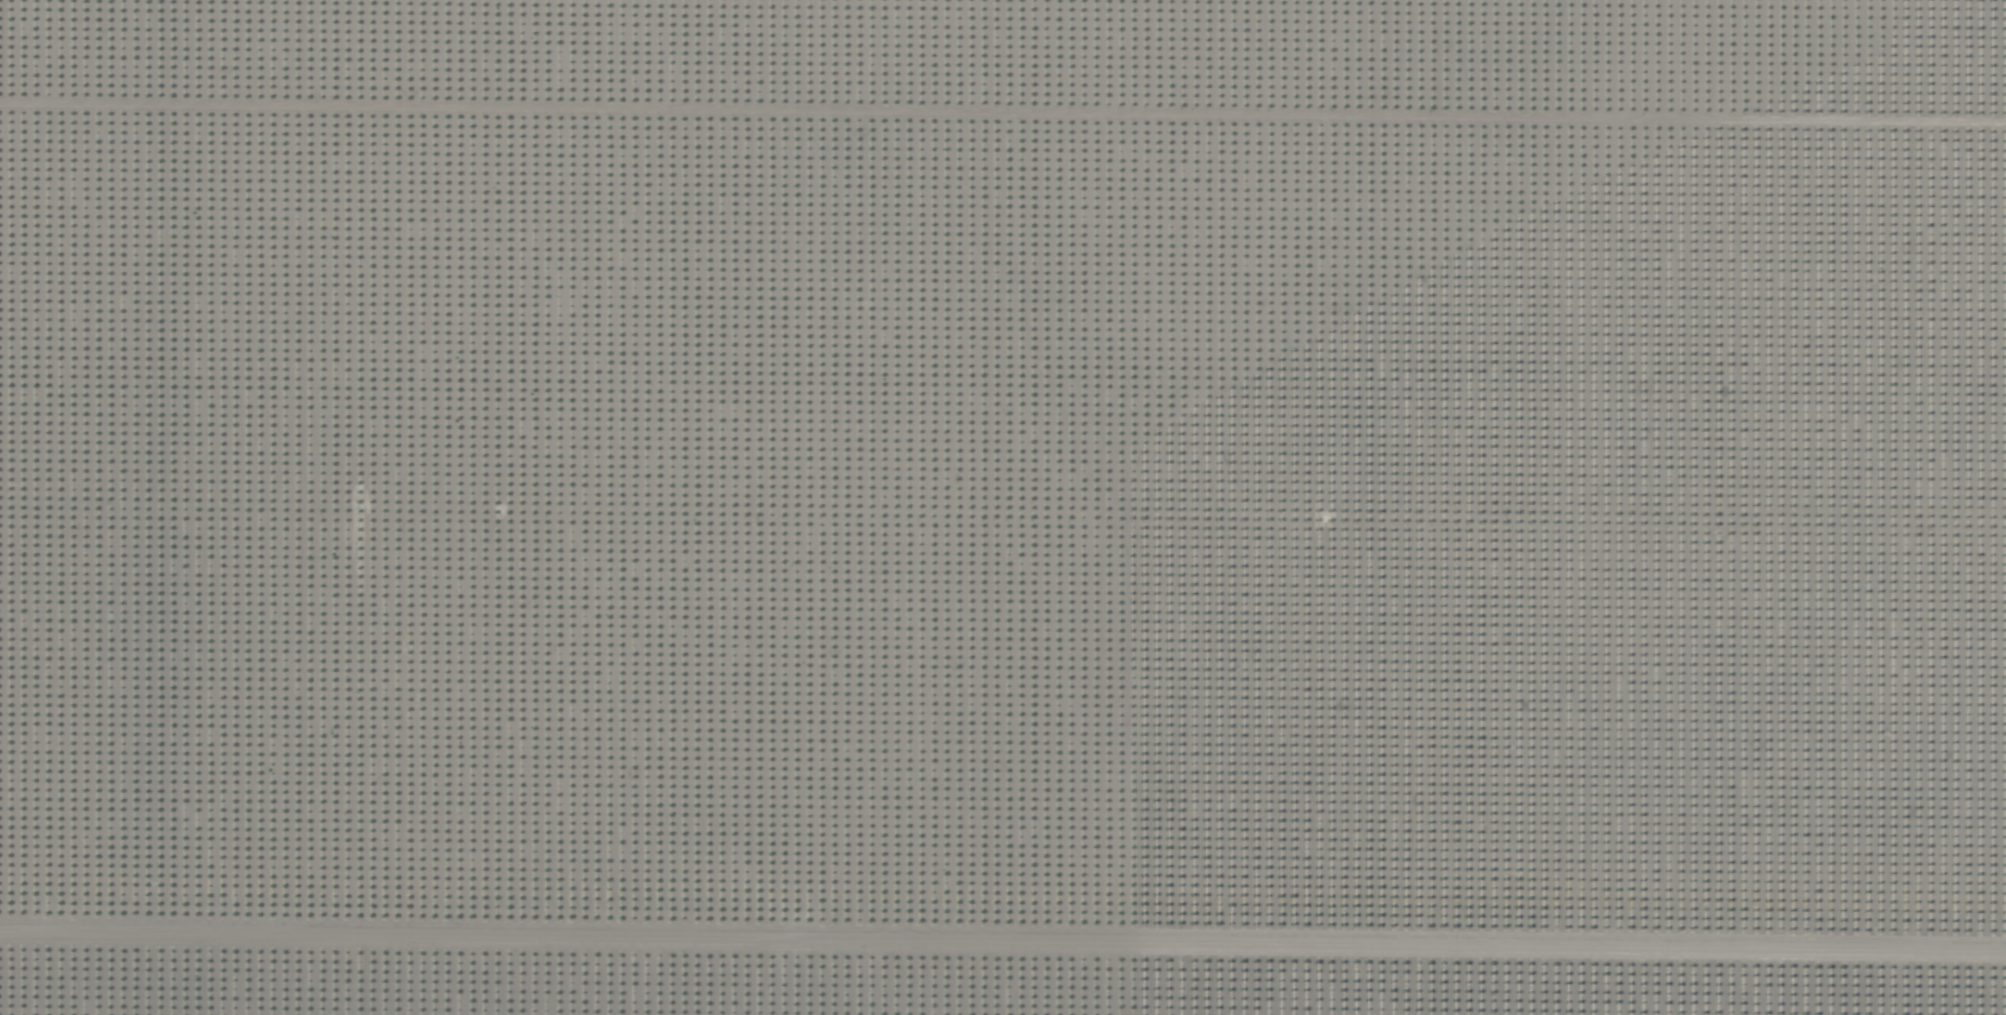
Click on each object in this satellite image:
crop: (1003, 507)

